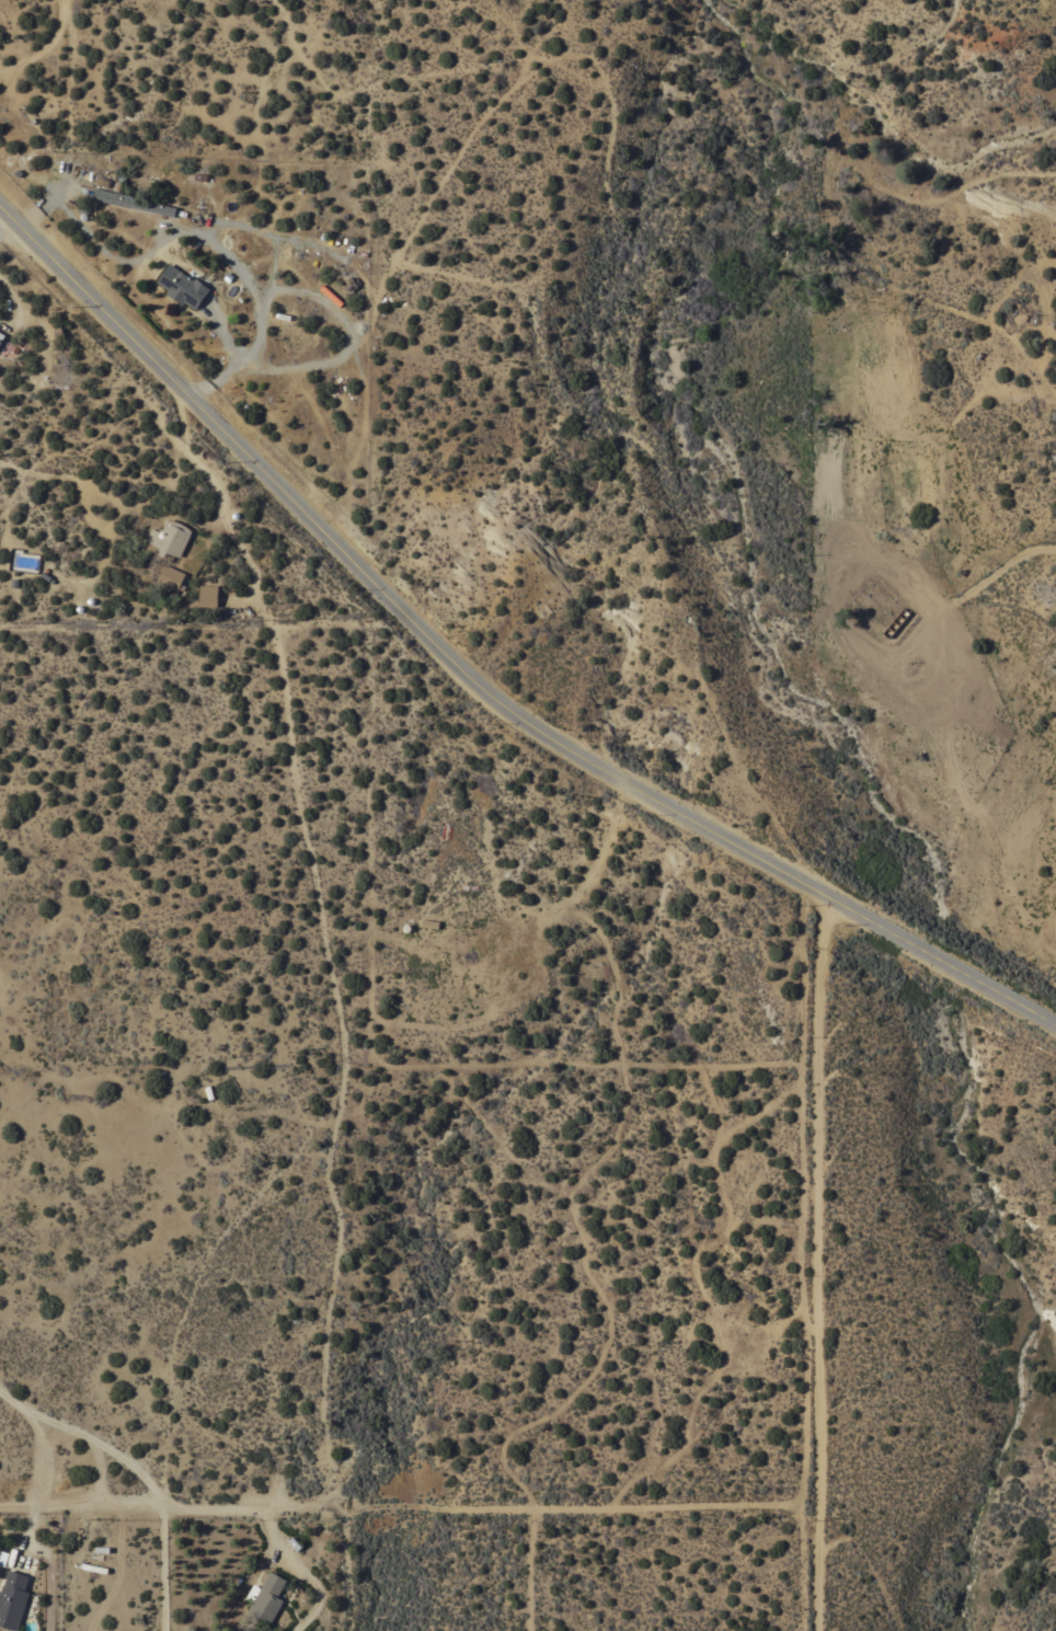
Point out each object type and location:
road: (47, 47)
building: (130, 202)
road: (172, 234)
building: (182, 286)
building: (1, 336)
road: (228, 366)
road: (220, 502)
building: (167, 539)
building: (170, 577)
building: (208, 596)
road: (136, 622)
building: (897, 625)
road: (480, 673)
road: (341, 1057)
road: (823, 1259)
road: (141, 1473)
road: (411, 1505)
road: (49, 1577)
building: (265, 1597)
building: (12, 1599)

